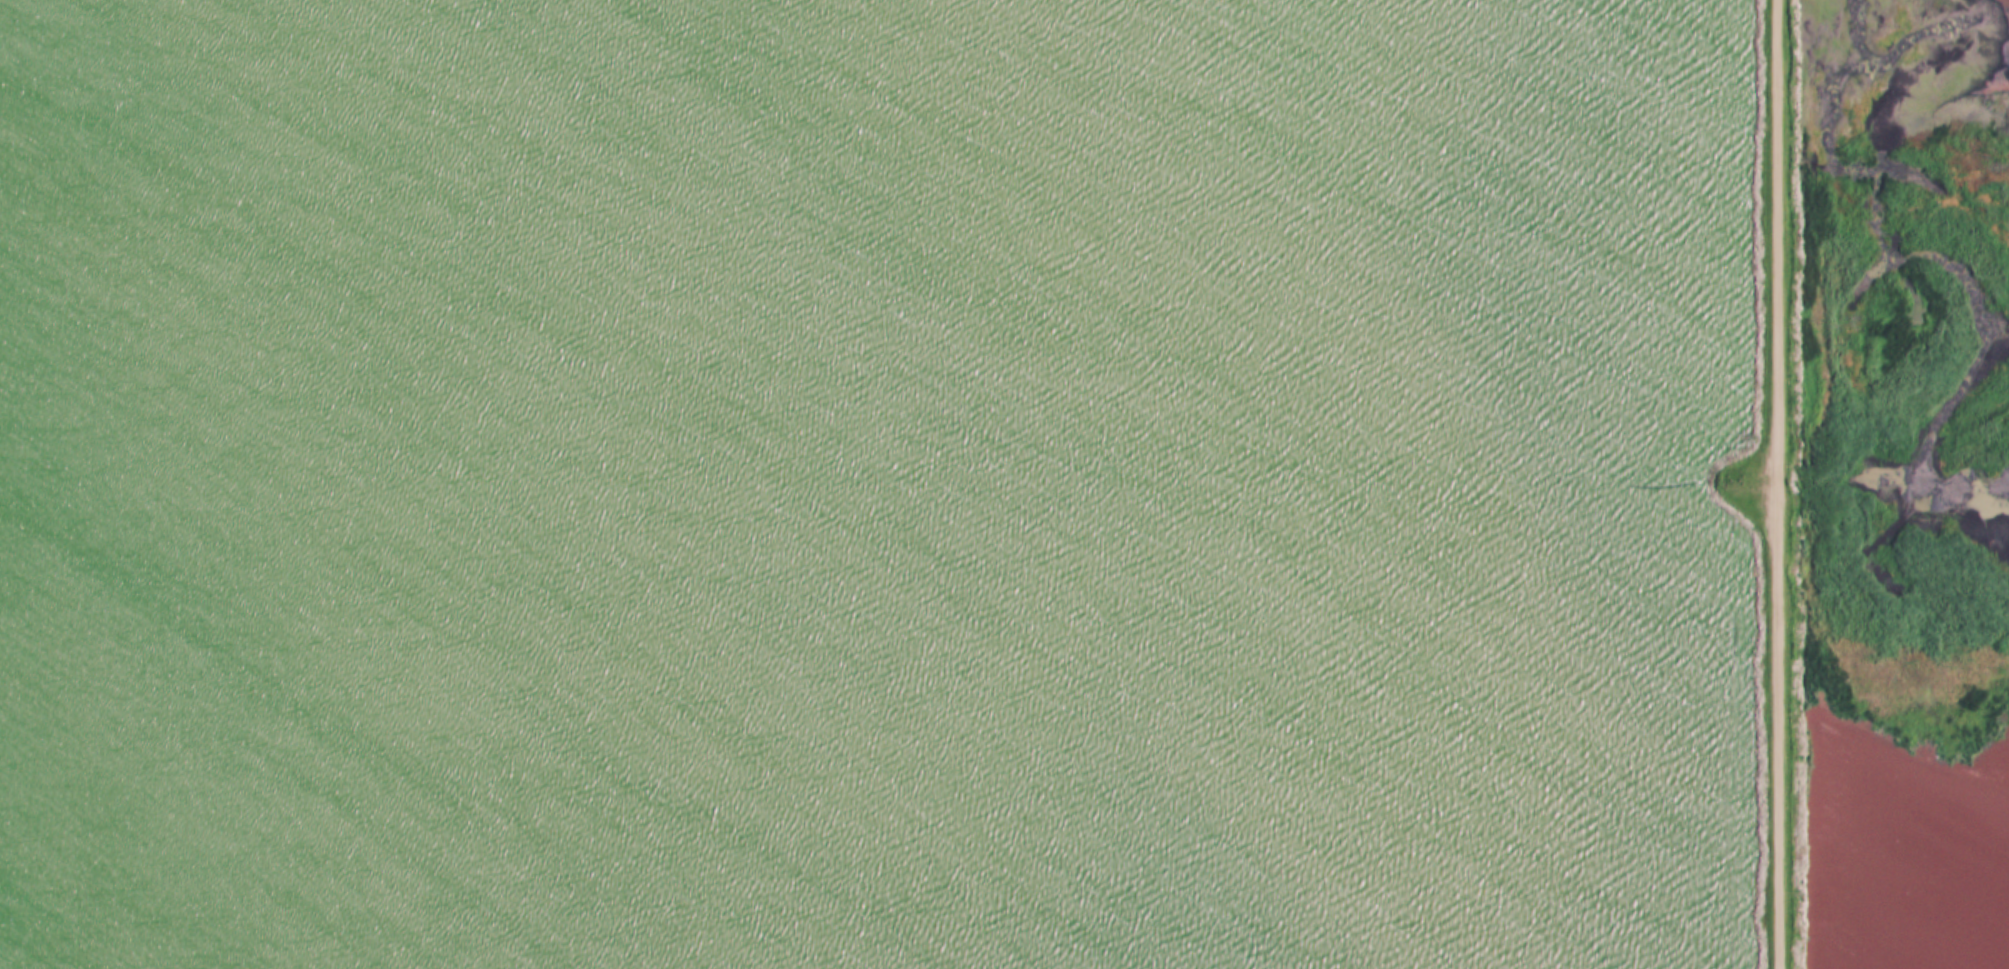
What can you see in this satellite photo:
road: (1782, 484)

